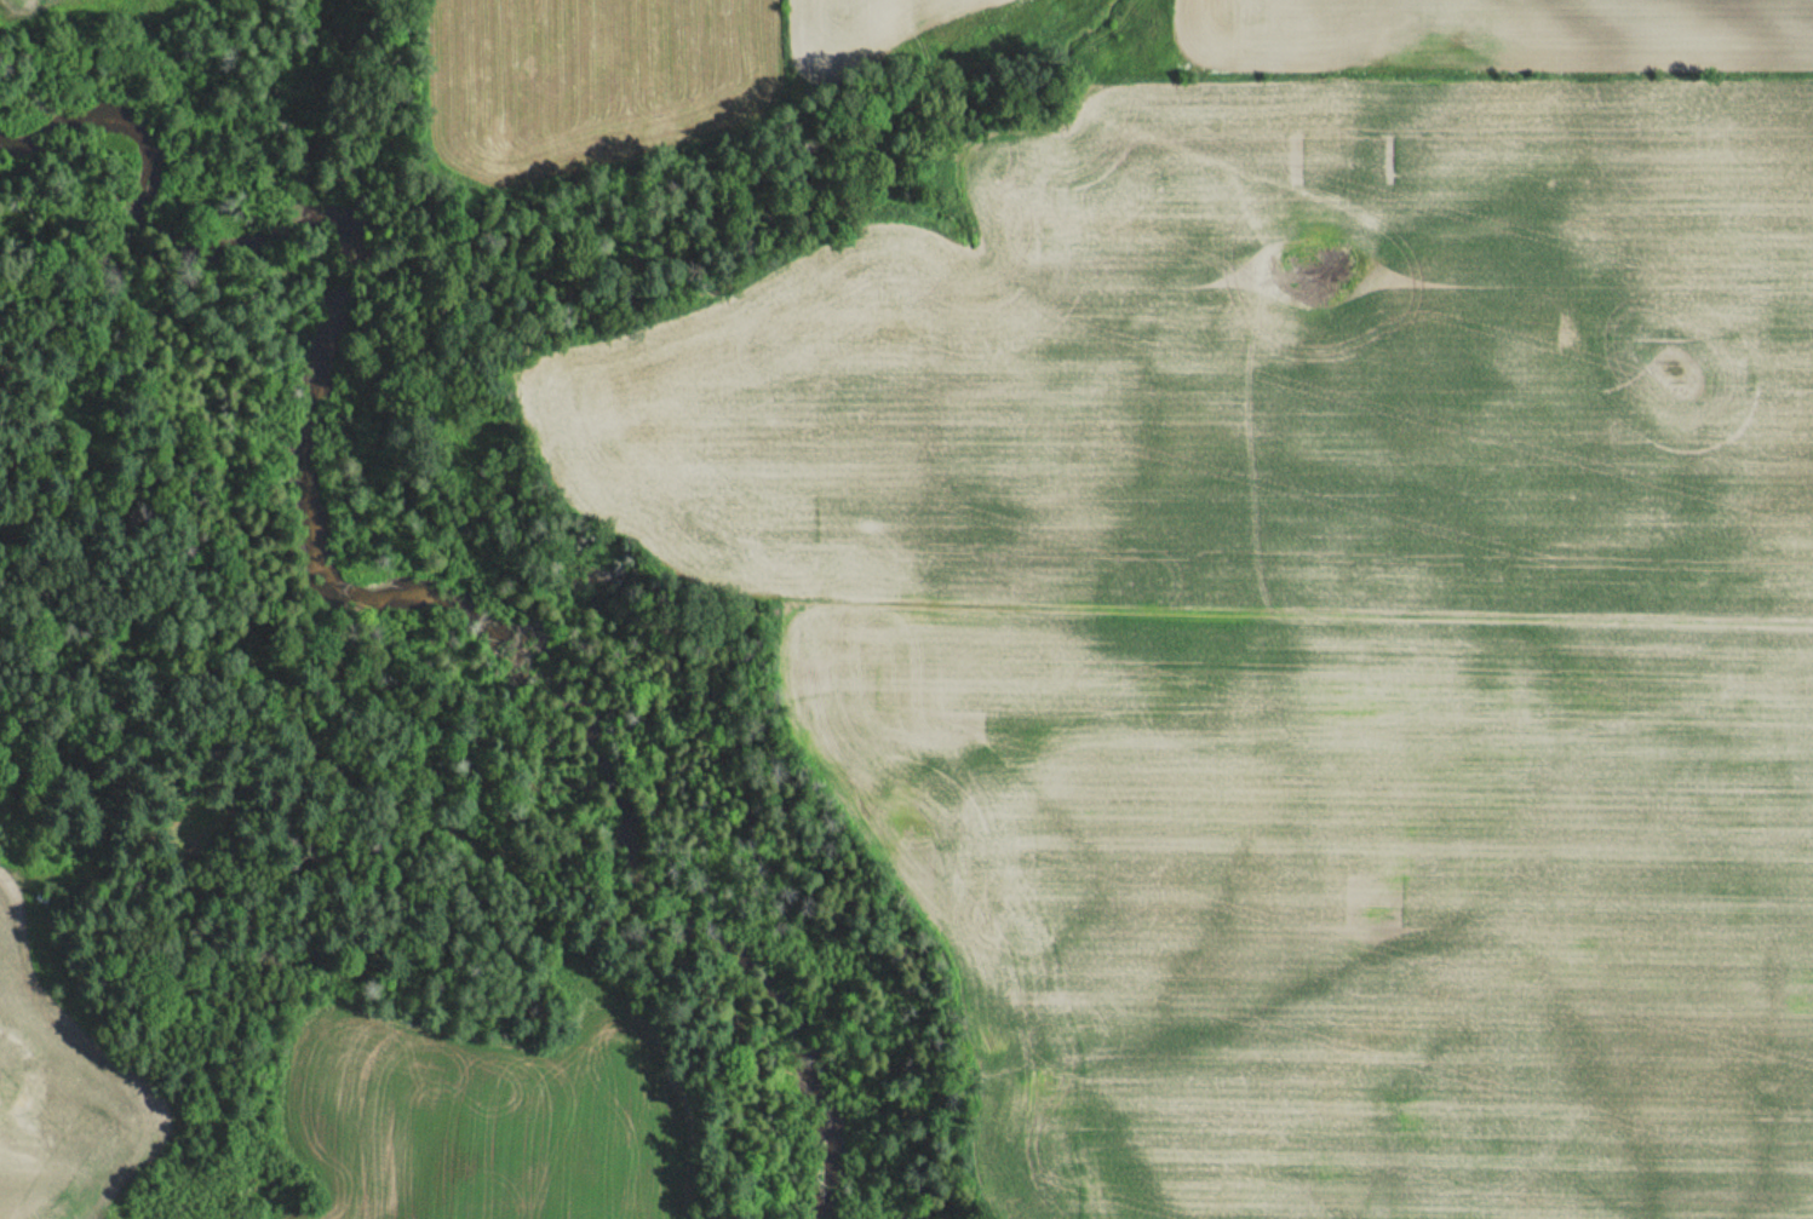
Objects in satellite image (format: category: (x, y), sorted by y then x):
river: (361, 590)

